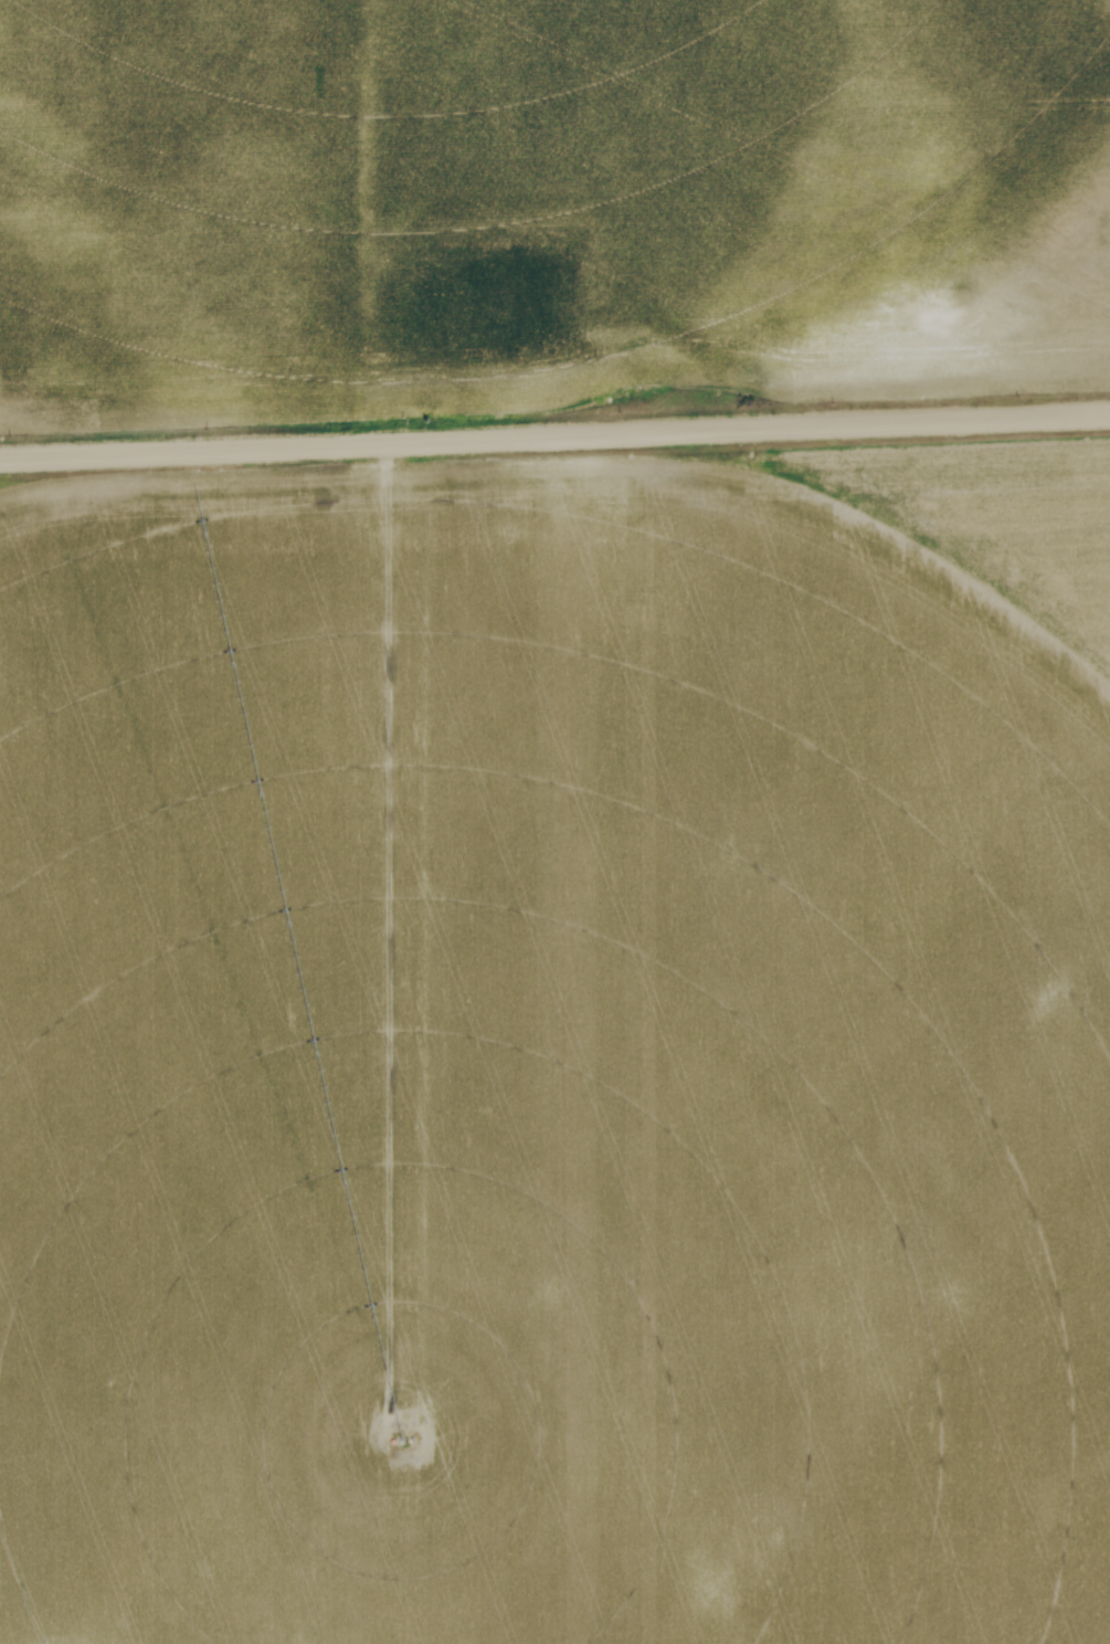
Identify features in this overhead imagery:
road: (554, 440)

